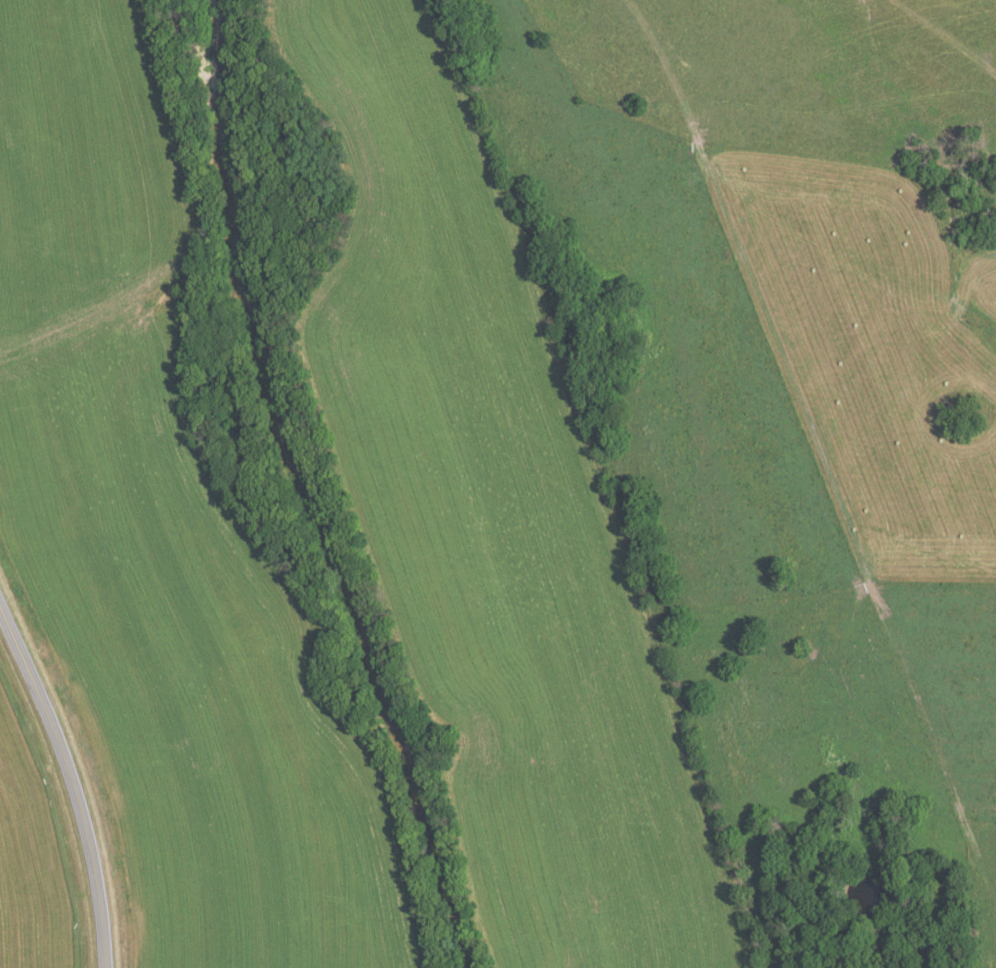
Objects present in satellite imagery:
road: (70, 781)

